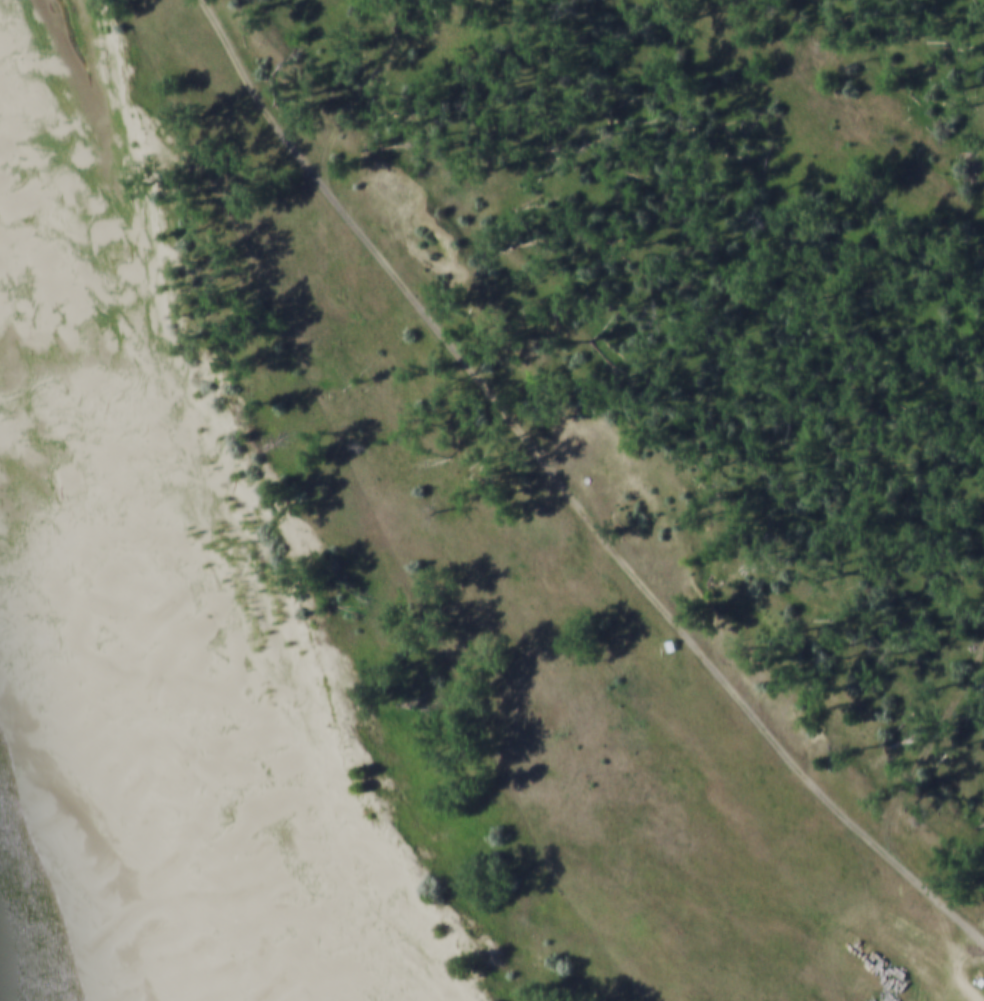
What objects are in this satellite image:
road: (259, 101)
road: (567, 496)

